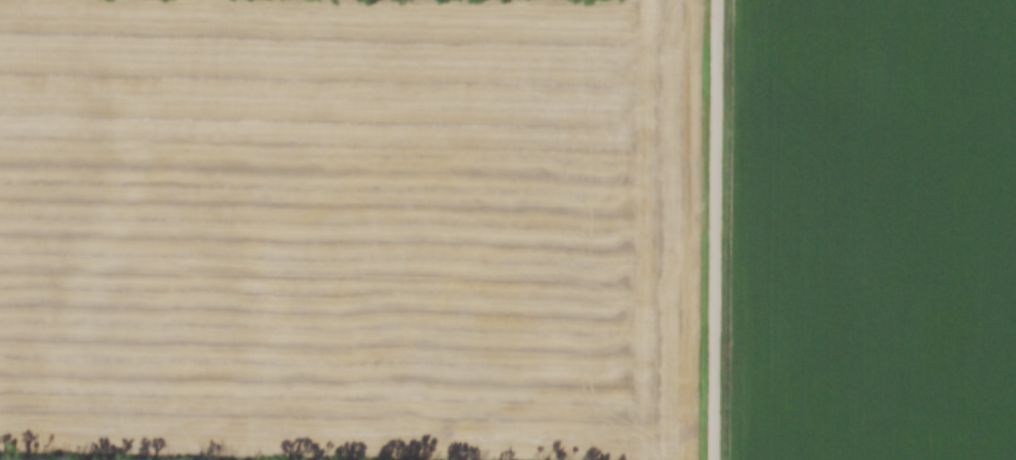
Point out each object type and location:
road: (718, 229)

